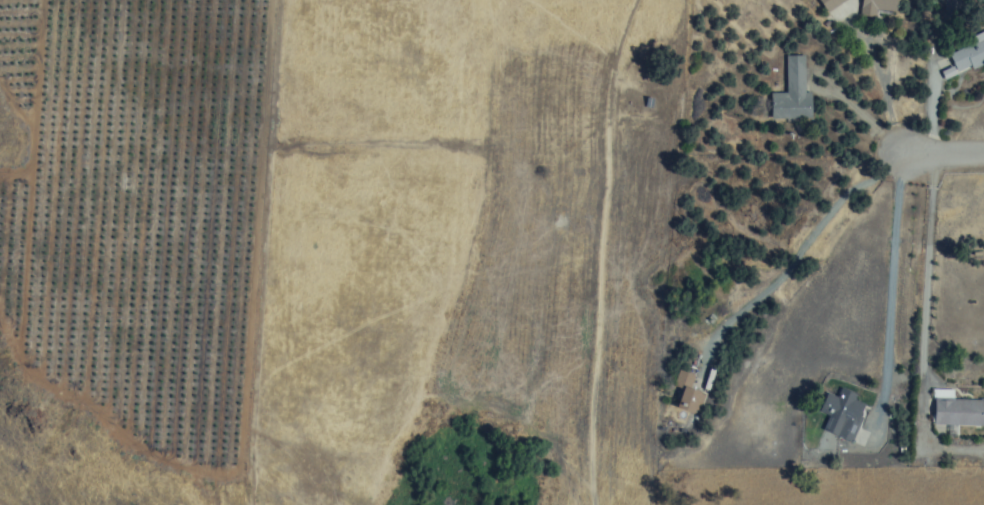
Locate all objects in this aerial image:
building: (830, 4)
building: (967, 54)
building: (792, 94)
road: (886, 95)
road: (933, 109)
road: (863, 114)
road: (944, 154)
crop: (138, 215)
road: (800, 240)
road: (926, 283)
road: (890, 290)
building: (686, 393)
building: (842, 411)
building: (958, 412)

